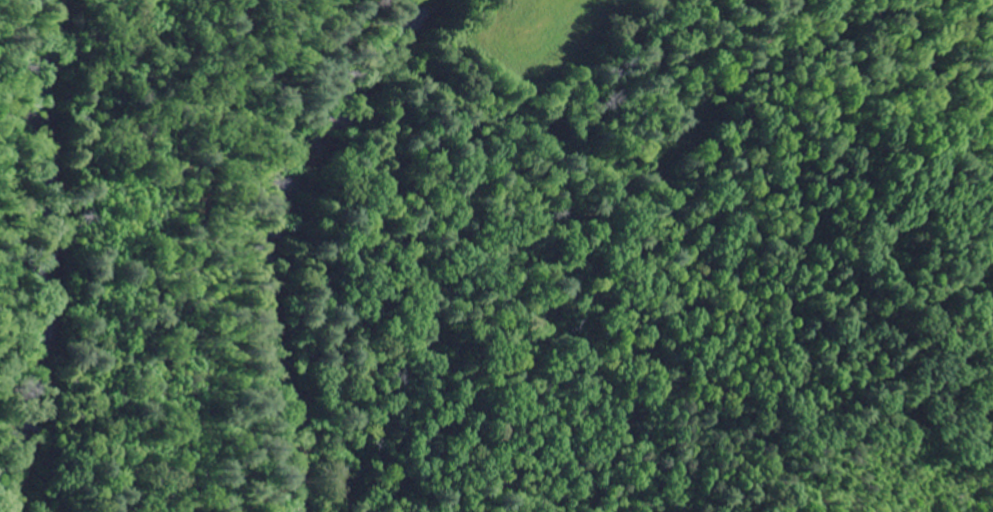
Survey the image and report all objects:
river: (287, 232)
river: (60, 258)

